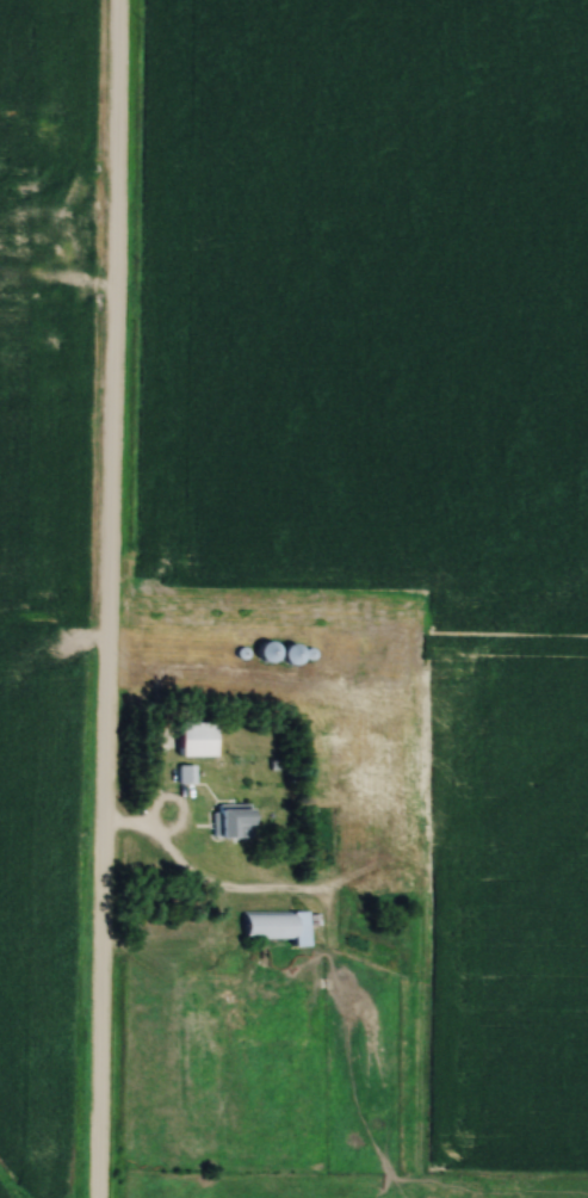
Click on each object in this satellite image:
building: (20, 196)
road: (41, 271)
road: (81, 286)
building: (32, 338)
road: (104, 598)
building: (353, 644)
building: (284, 654)
building: (190, 737)
building: (318, 748)
building: (228, 821)
building: (347, 833)
road: (168, 858)
building: (273, 926)
building: (354, 950)

